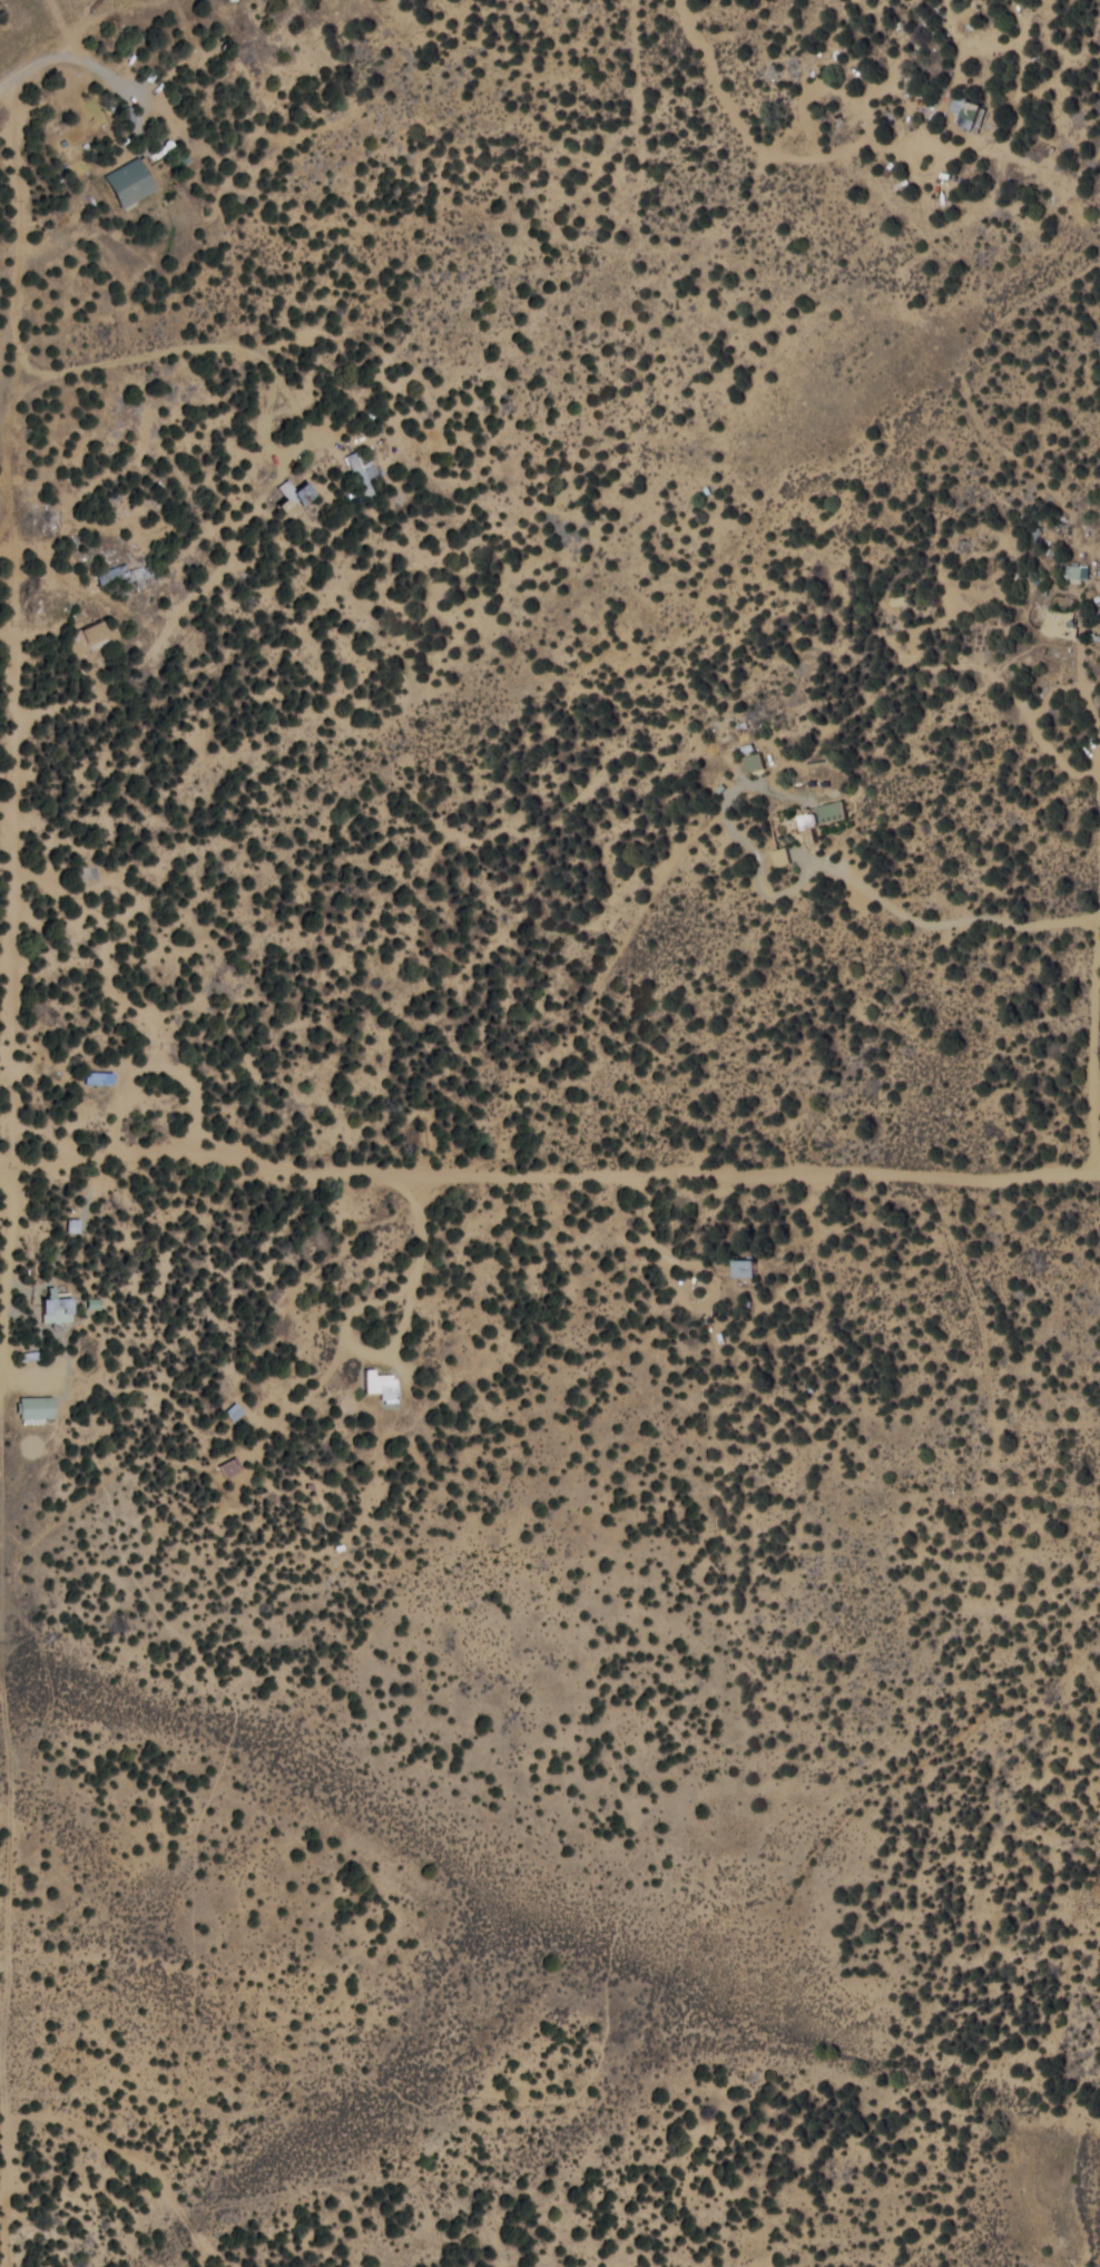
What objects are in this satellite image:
building: (970, 109)
building: (130, 180)
building: (362, 469)
road: (122, 481)
building: (296, 494)
building: (1079, 571)
building: (127, 574)
building: (1064, 622)
building: (99, 632)
road: (14, 697)
building: (756, 761)
building: (783, 854)
road: (627, 1048)
building: (99, 1077)
road: (549, 1204)
building: (73, 1223)
building: (750, 1267)
building: (95, 1302)
building: (57, 1307)
building: (382, 1385)
building: (37, 1406)
building: (234, 1410)
building: (230, 1466)

